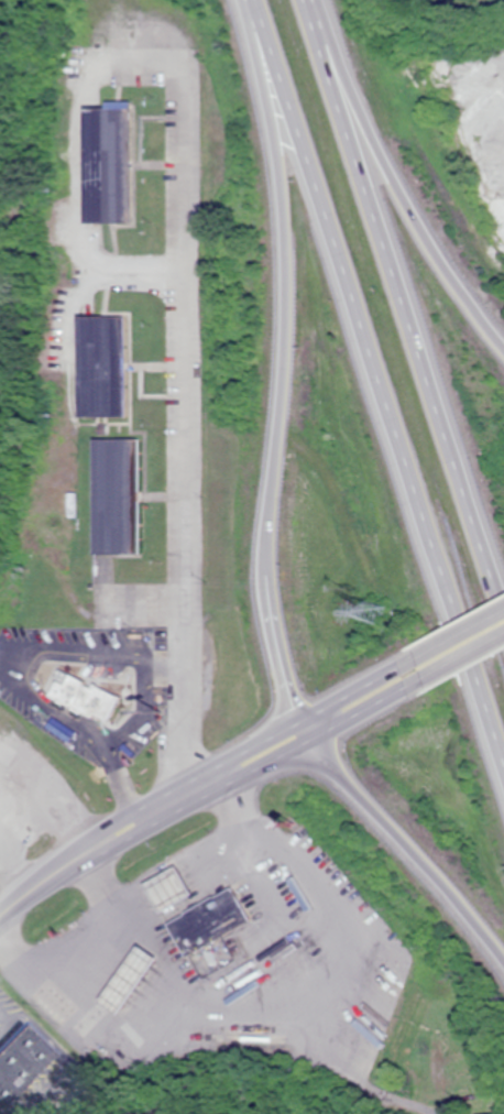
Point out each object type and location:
road: (409, 203)
road: (406, 298)
road: (376, 390)
road: (280, 402)
power tower: (373, 609)
road: (458, 635)
road: (462, 657)
road: (353, 691)
road: (362, 711)
road: (299, 733)
road: (187, 783)
road: (201, 806)
road: (408, 848)
building: (163, 887)
road: (46, 888)
building: (204, 919)
building: (123, 978)
road: (320, 1078)
building: (10, 1081)
road: (362, 1084)
road: (167, 1092)

